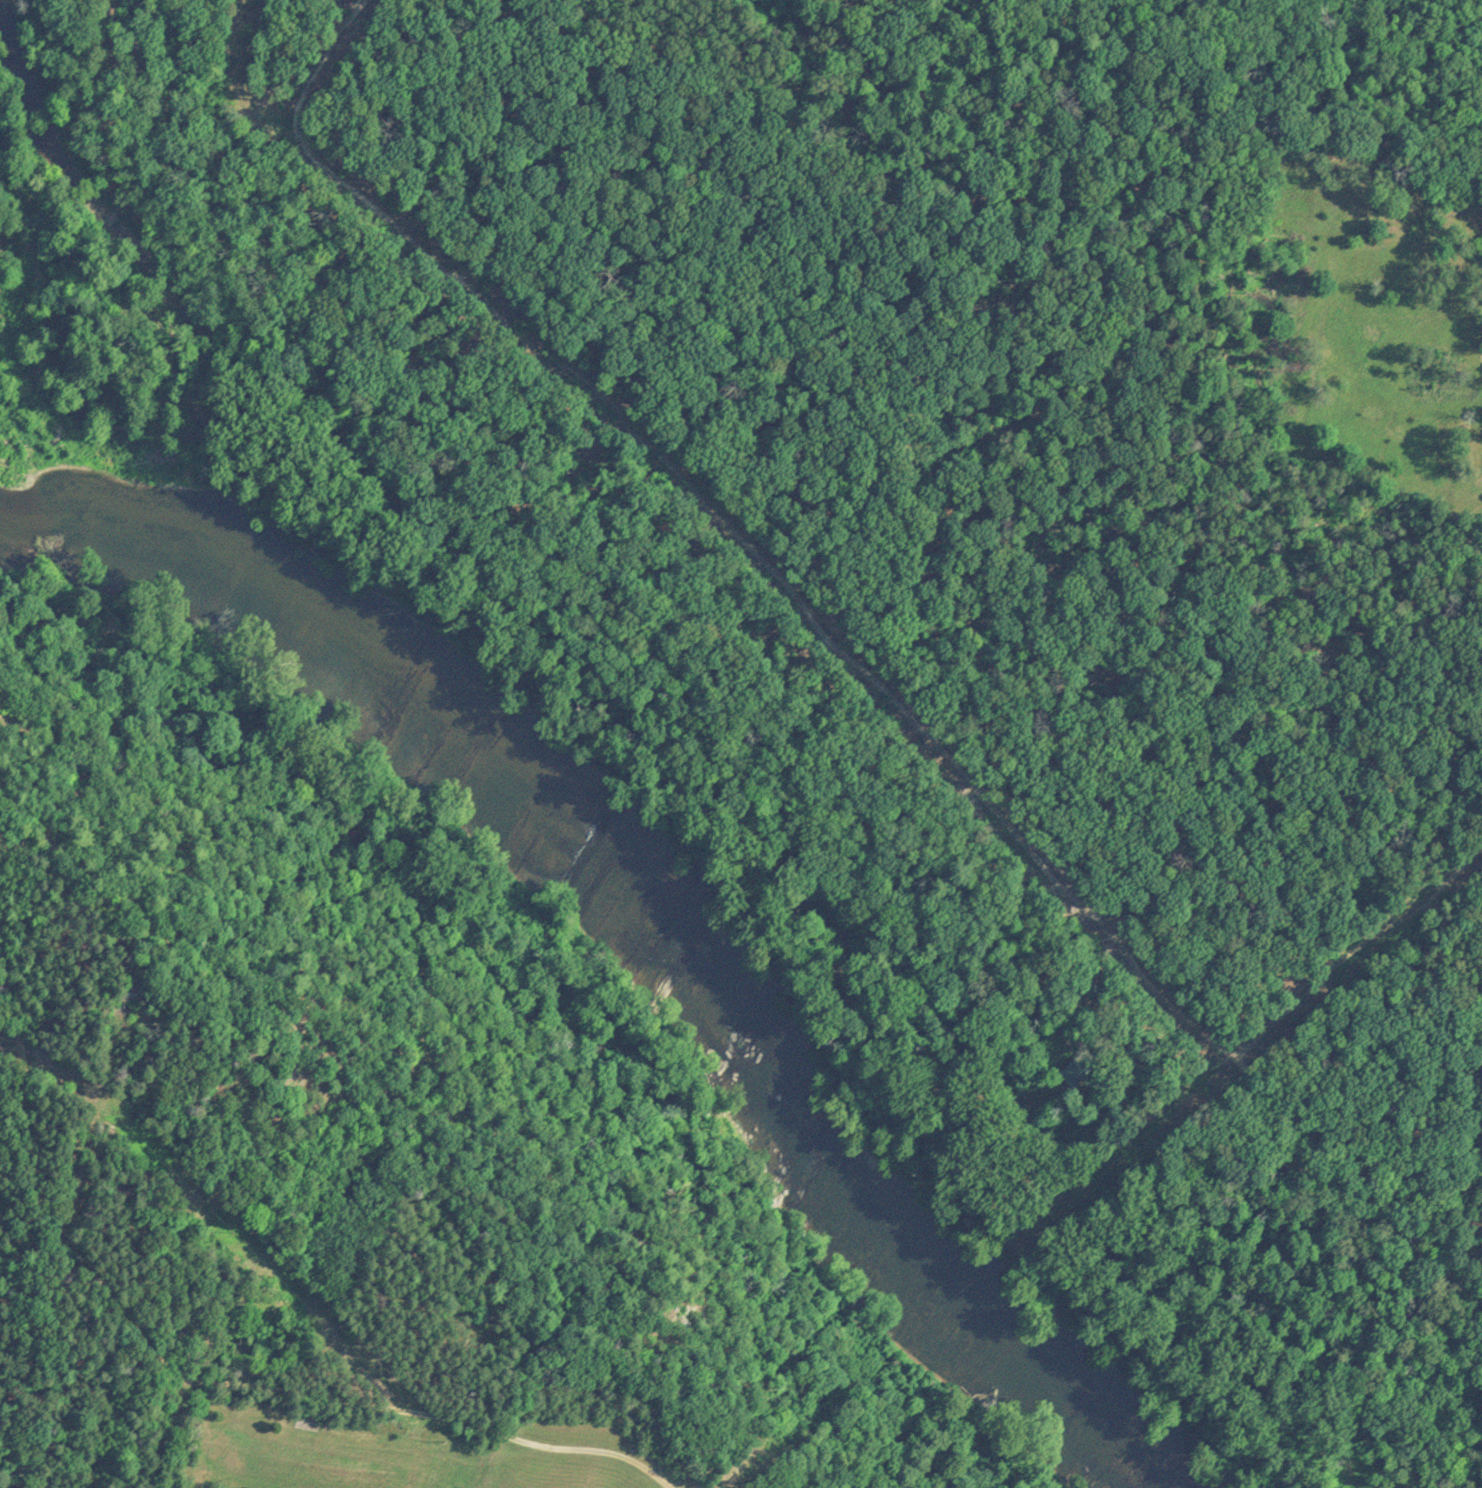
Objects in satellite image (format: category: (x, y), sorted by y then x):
road: (1121, 311)
crop: (1382, 365)
road: (1006, 867)
river: (607, 908)
building: (1063, 1077)

